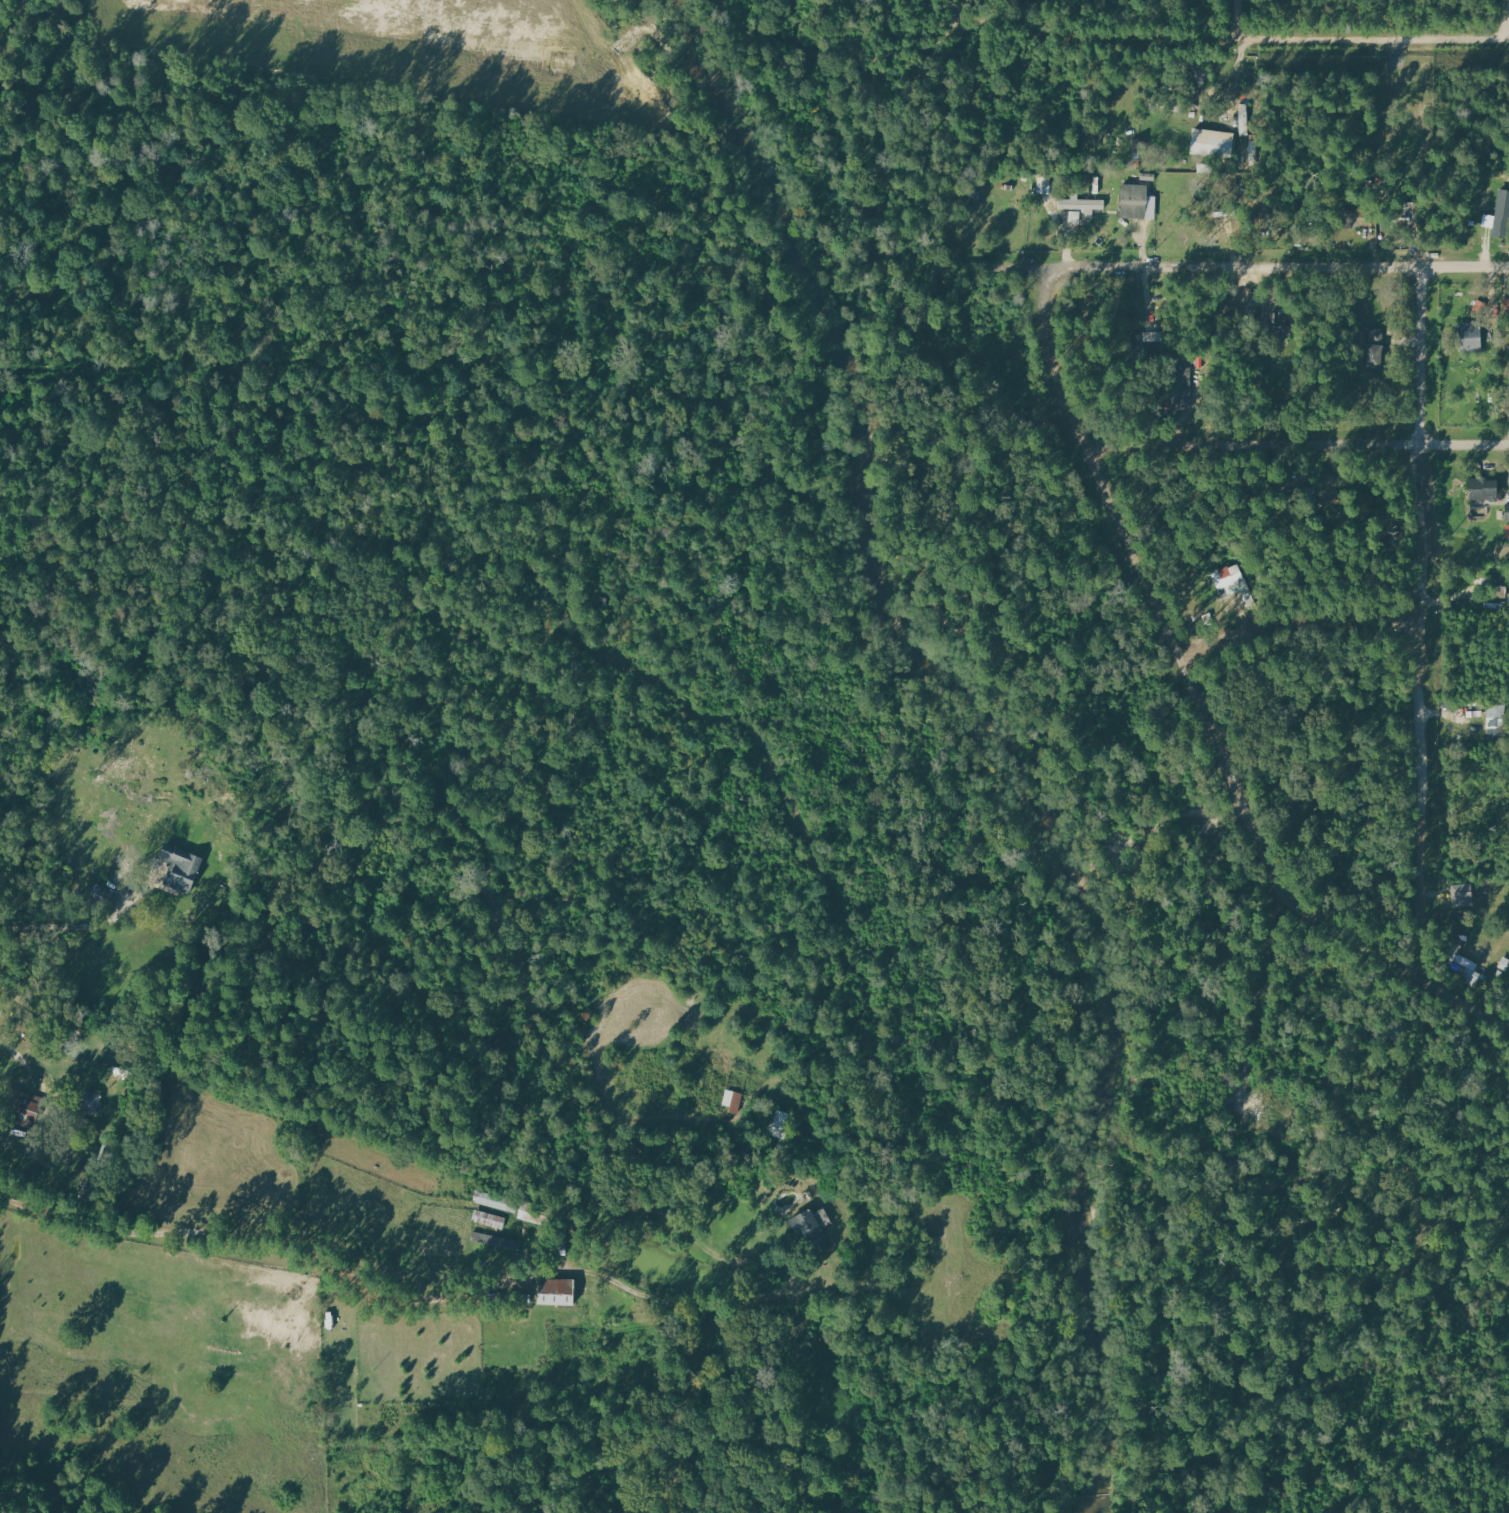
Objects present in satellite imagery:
road: (1241, 18)
road: (1508, 19)
road: (1273, 37)
building: (1212, 143)
building: (1136, 202)
building: (1080, 207)
building: (1406, 215)
building: (1352, 219)
road: (1227, 266)
building: (1280, 321)
building: (1469, 337)
building: (1151, 344)
building: (1374, 348)
building: (1183, 388)
road: (1293, 443)
building: (1483, 489)
building: (1507, 512)
building: (1507, 531)
building: (1231, 580)
building: (1498, 592)
road: (1295, 619)
road: (1423, 620)
road: (1189, 689)
river: (998, 713)
building: (1497, 717)
building: (180, 867)
building: (1461, 893)
road: (79, 927)
building: (1465, 965)
road: (1262, 983)
building: (90, 1101)
building: (734, 1101)
building: (778, 1123)
building: (495, 1201)
building: (805, 1226)
building: (491, 1234)
building: (554, 1291)
road: (392, 1296)

